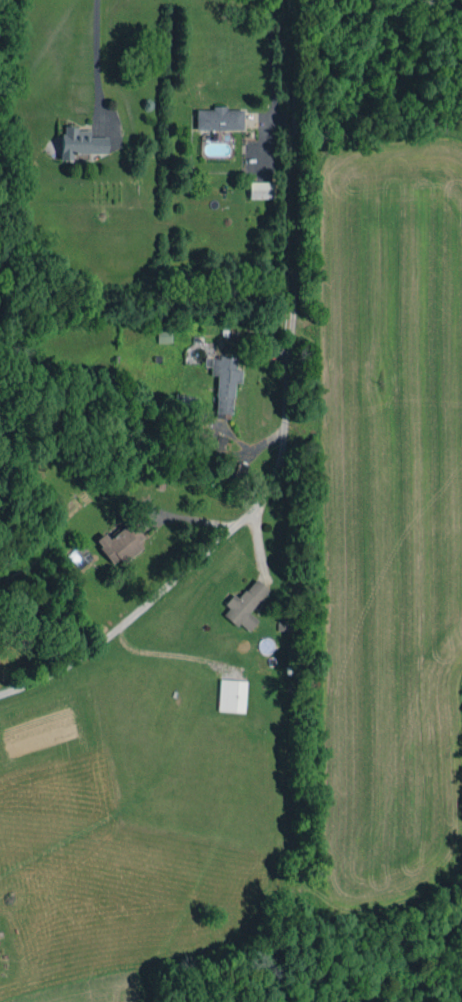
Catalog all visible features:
road: (431, 7)
road: (270, 56)
road: (96, 57)
building: (218, 119)
building: (80, 142)
building: (260, 190)
road: (293, 353)
building: (224, 380)
building: (120, 543)
building: (244, 605)
road: (60, 673)
building: (231, 695)

